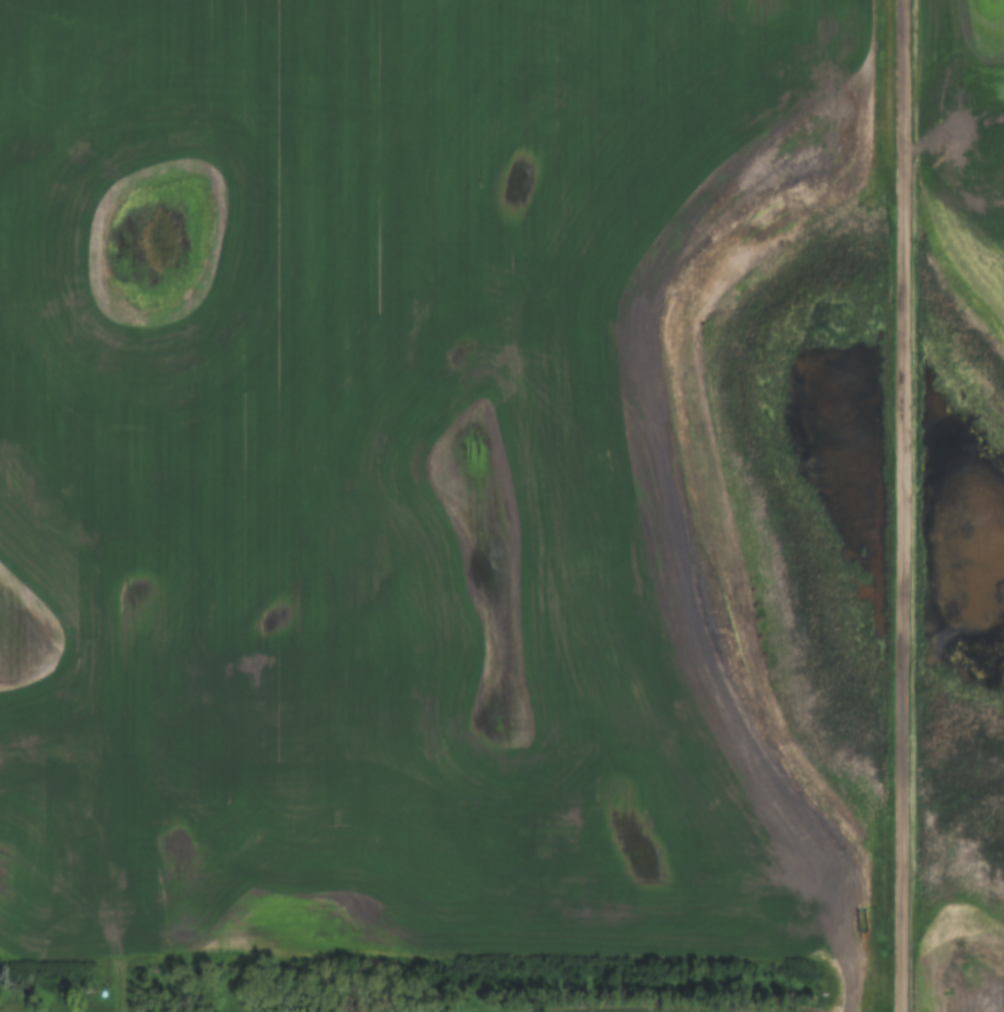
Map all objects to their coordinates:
road: (901, 506)

